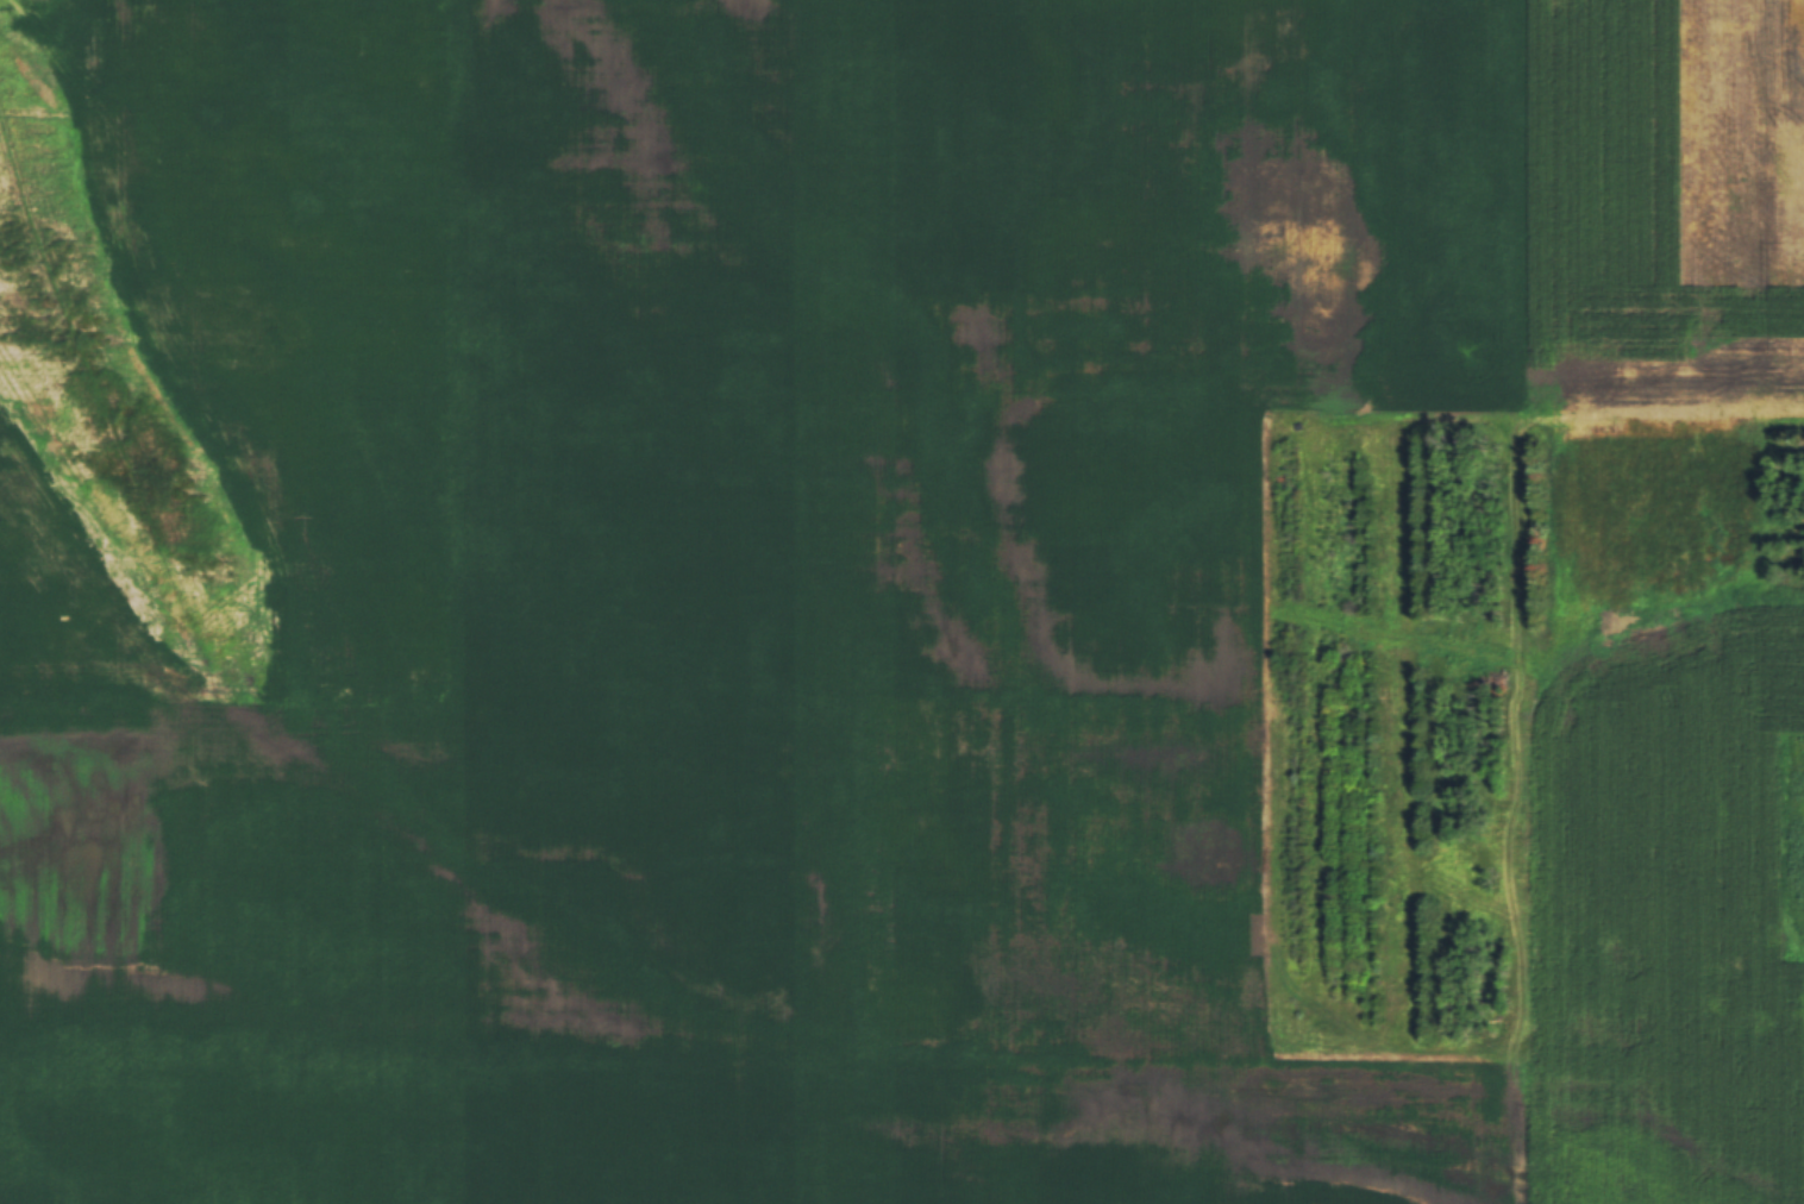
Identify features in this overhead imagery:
building: (1709, 974)
building: (1750, 1033)

